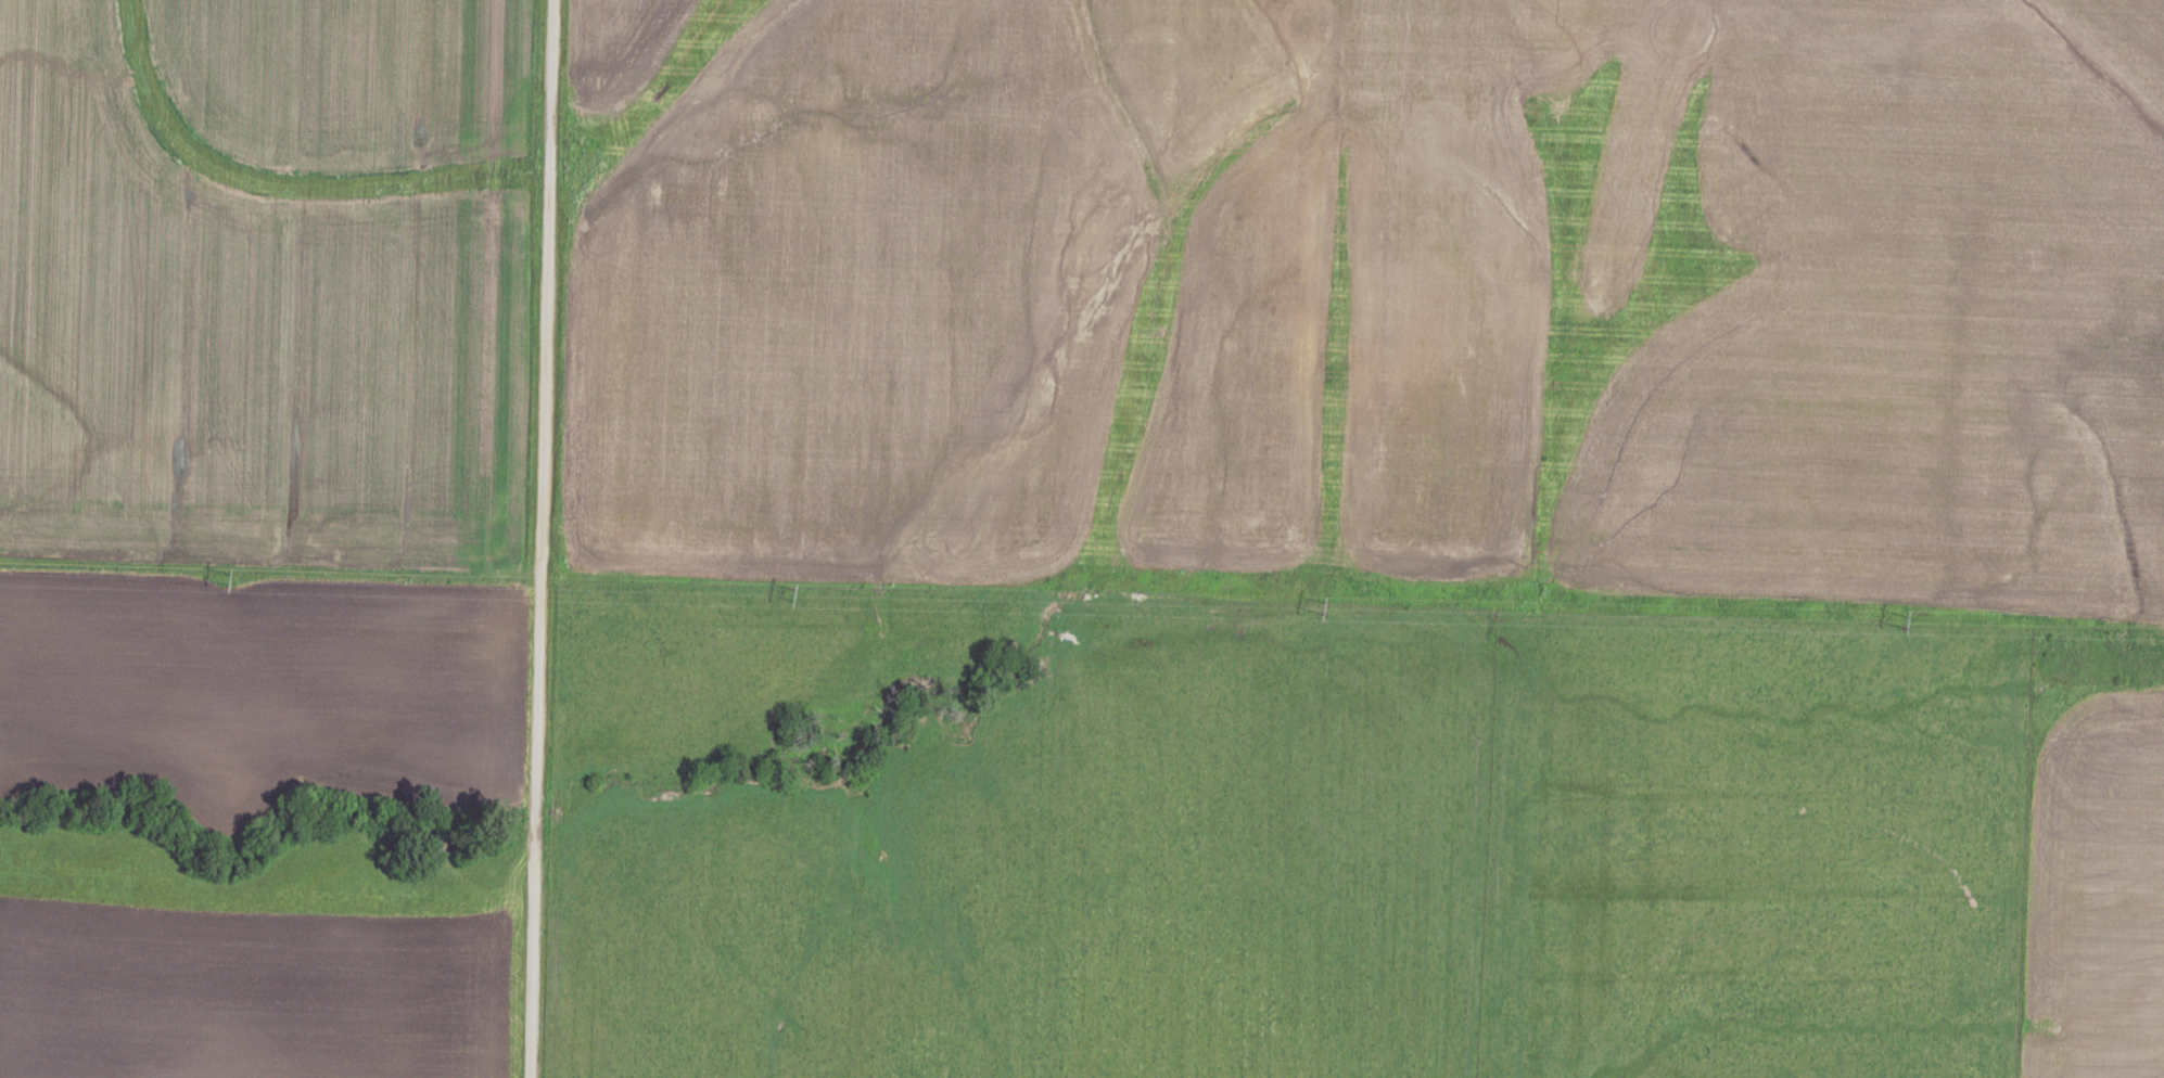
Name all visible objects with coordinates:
crop: (269, 280)
crop: (1376, 300)
road: (523, 539)
power tower: (236, 588)
power tower: (797, 602)
power tower: (1325, 613)
power tower: (1911, 620)
crop: (2096, 855)
crop: (259, 992)

